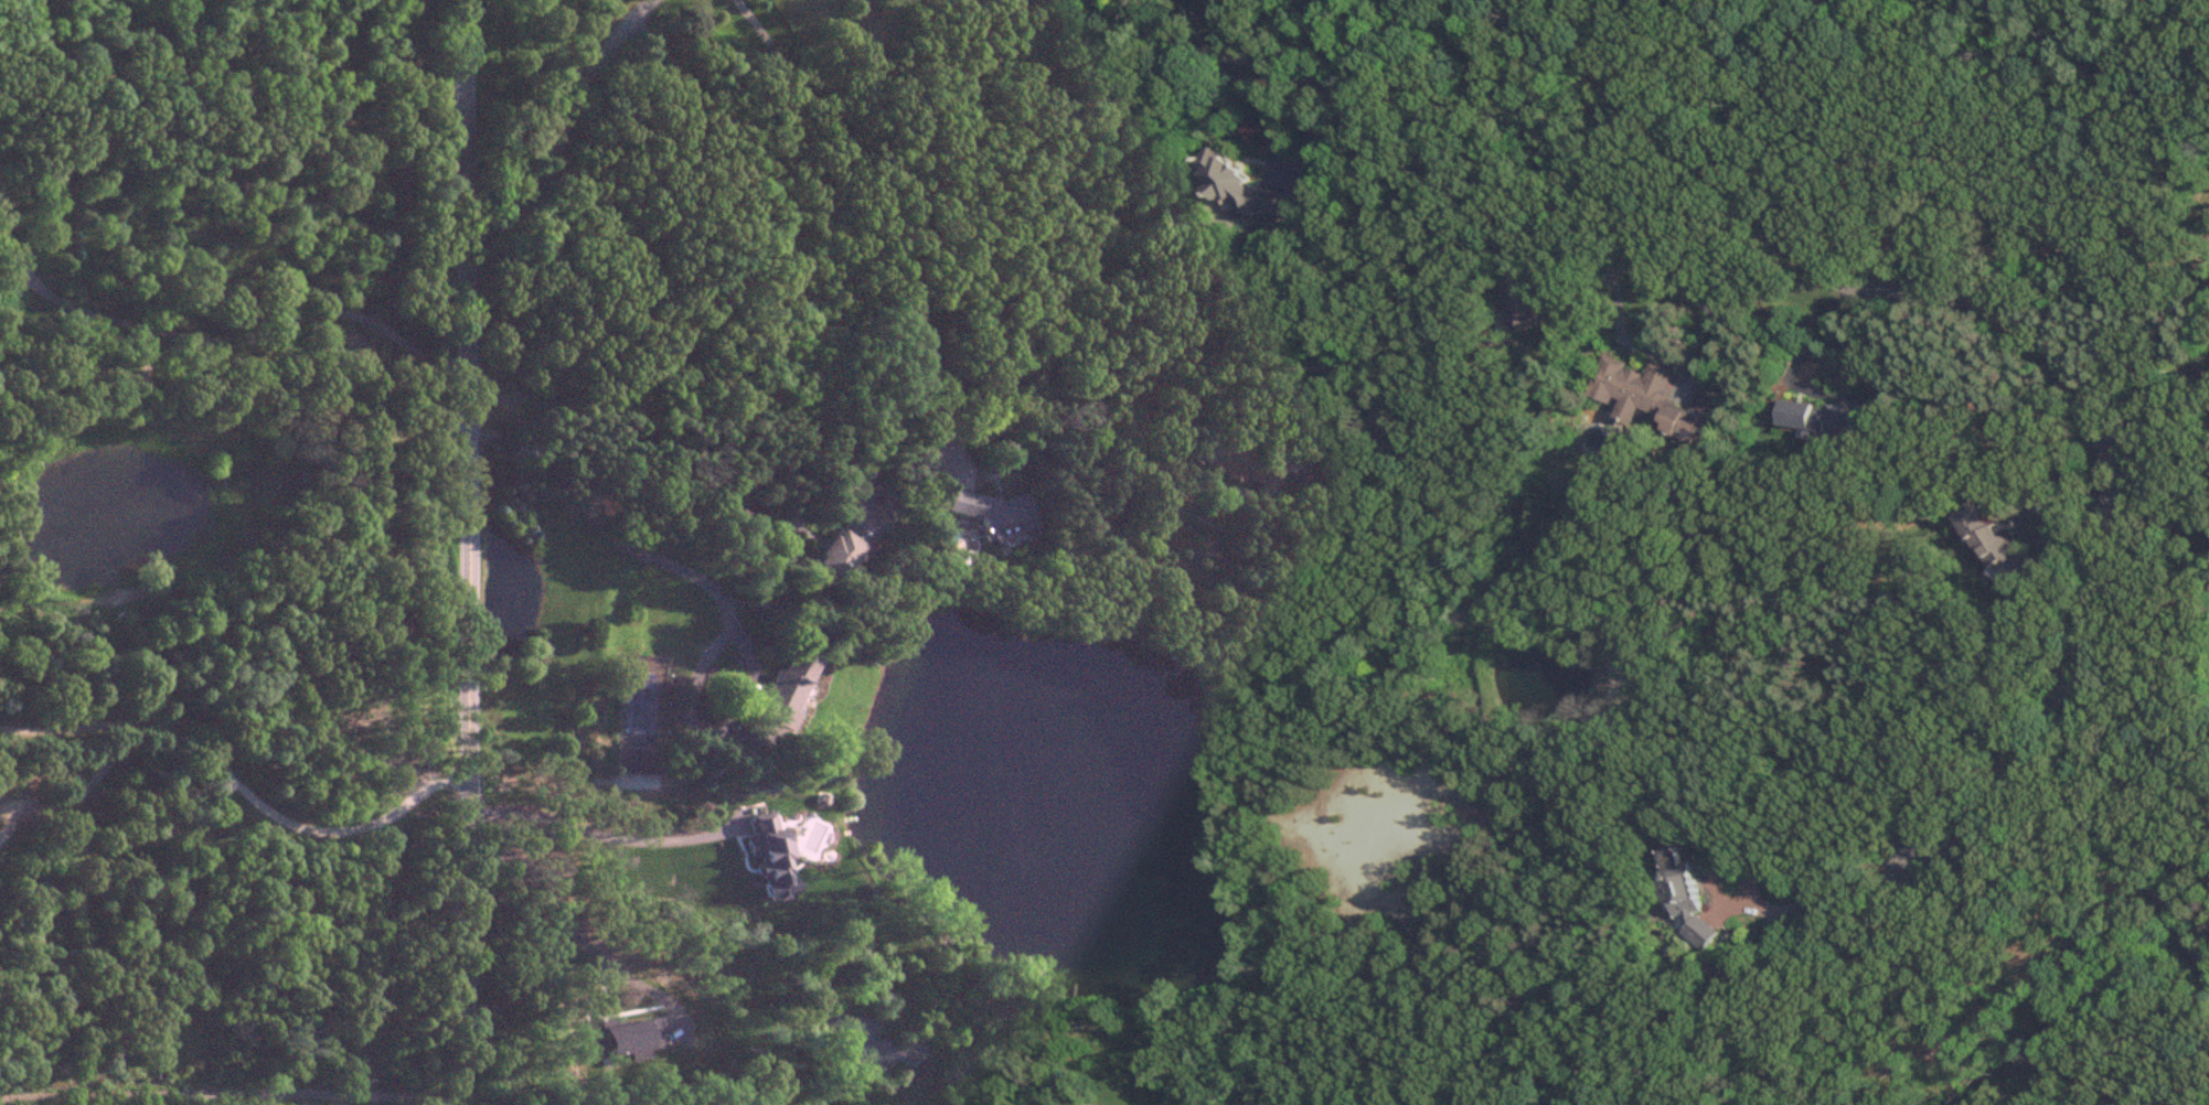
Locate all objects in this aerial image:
road: (1140, 7)
road: (1385, 50)
road: (1270, 117)
road: (565, 128)
road: (860, 207)
road: (794, 239)
road: (24, 254)
road: (1601, 264)
road: (24, 278)
road: (1935, 299)
road: (1399, 304)
building: (1519, 308)
road: (265, 330)
road: (468, 382)
building: (1632, 387)
road: (2152, 399)
building: (1695, 416)
building: (1820, 418)
building: (1247, 465)
building: (993, 513)
road: (2159, 522)
building: (846, 539)
building: (1992, 539)
road: (1867, 555)
road: (686, 572)
building: (782, 698)
building: (640, 762)
road: (237, 785)
road: (84, 788)
road: (2102, 829)
road: (595, 834)
building: (1687, 894)
road: (568, 918)
road: (468, 934)
road: (676, 1020)
road: (232, 1090)

